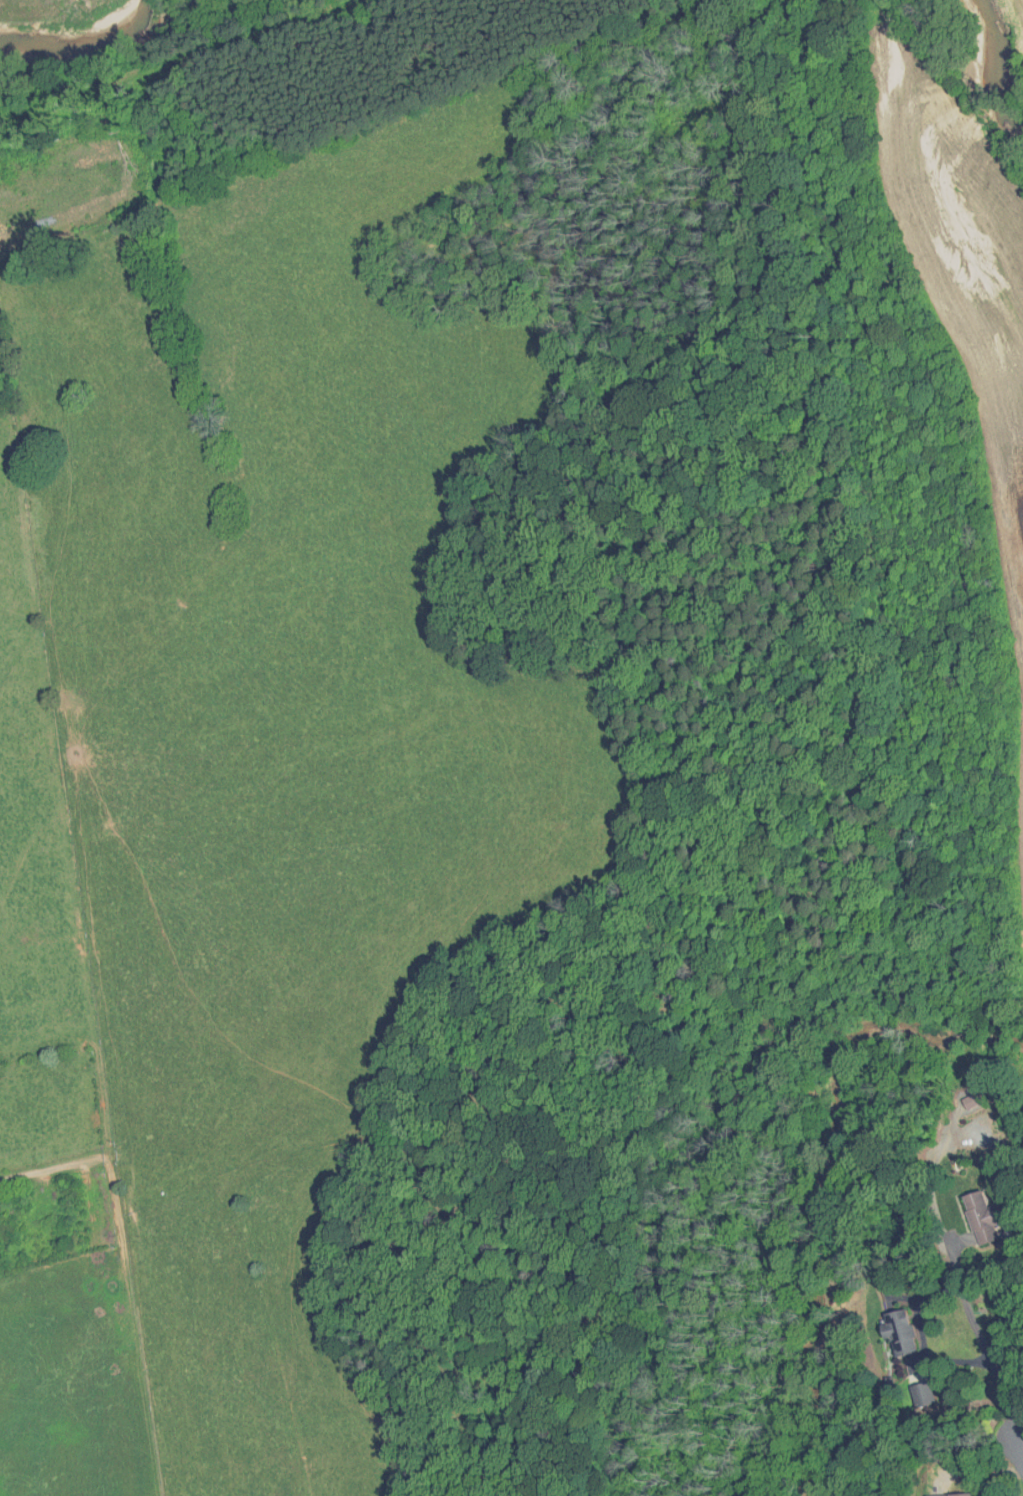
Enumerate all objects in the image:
building: (975, 1217)
road: (966, 1300)
building: (892, 1332)
road: (924, 1339)
building: (916, 1389)
road: (1019, 1443)
building: (946, 1494)

